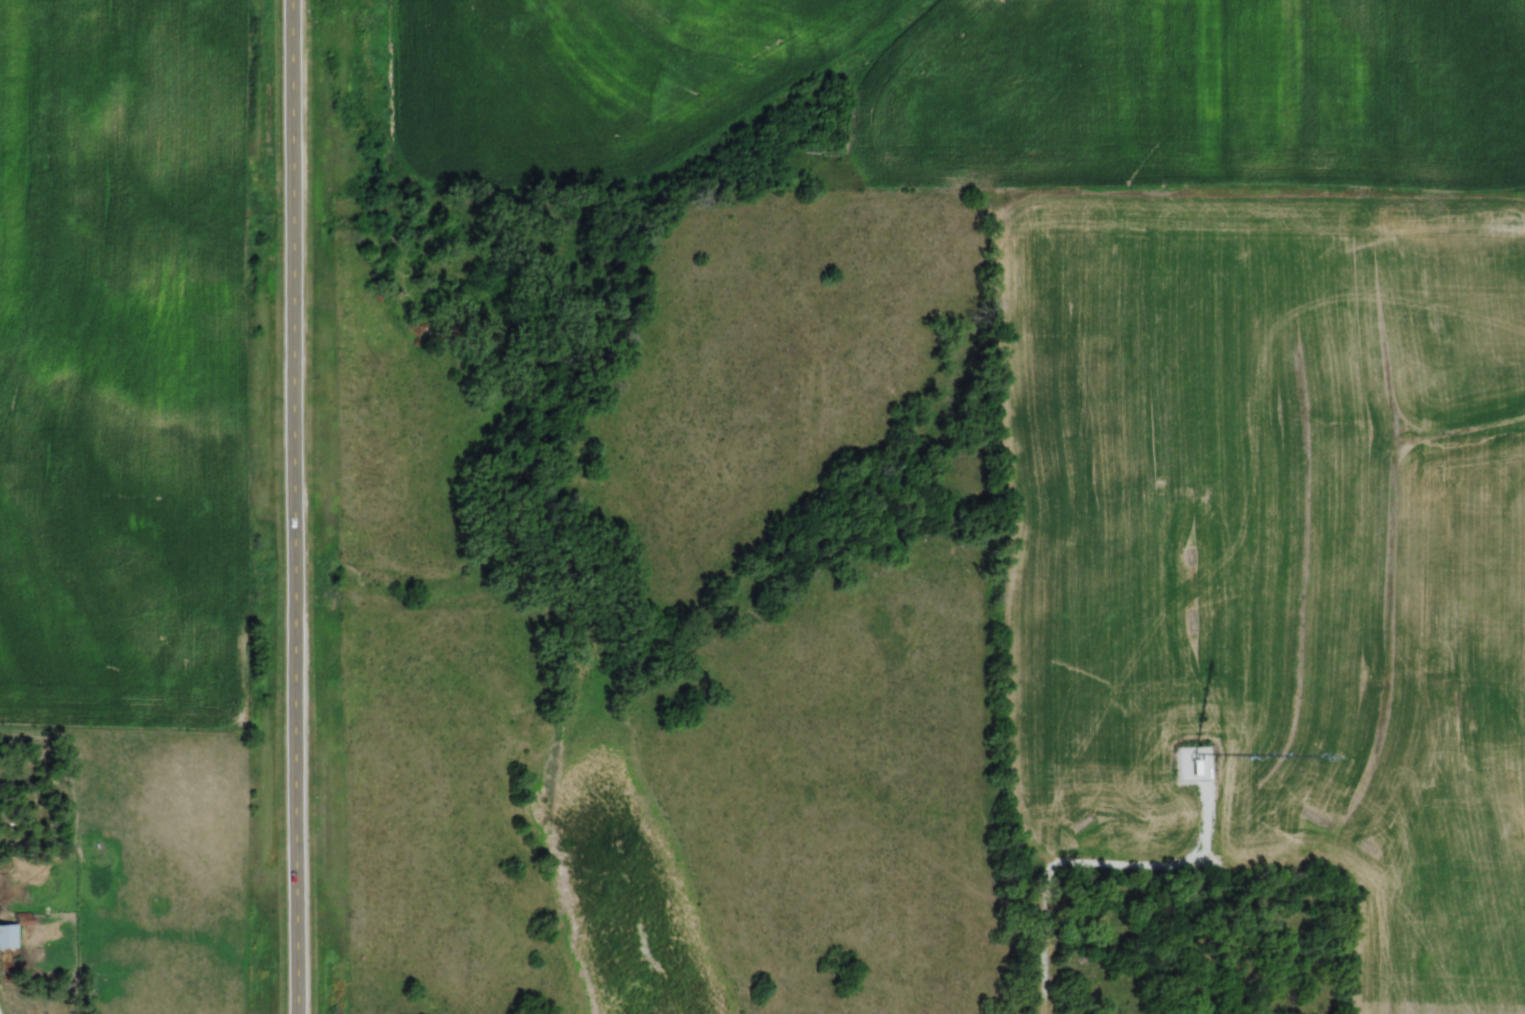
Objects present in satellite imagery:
road: (292, 506)
building: (1196, 768)
road: (1210, 869)
building: (13, 933)

